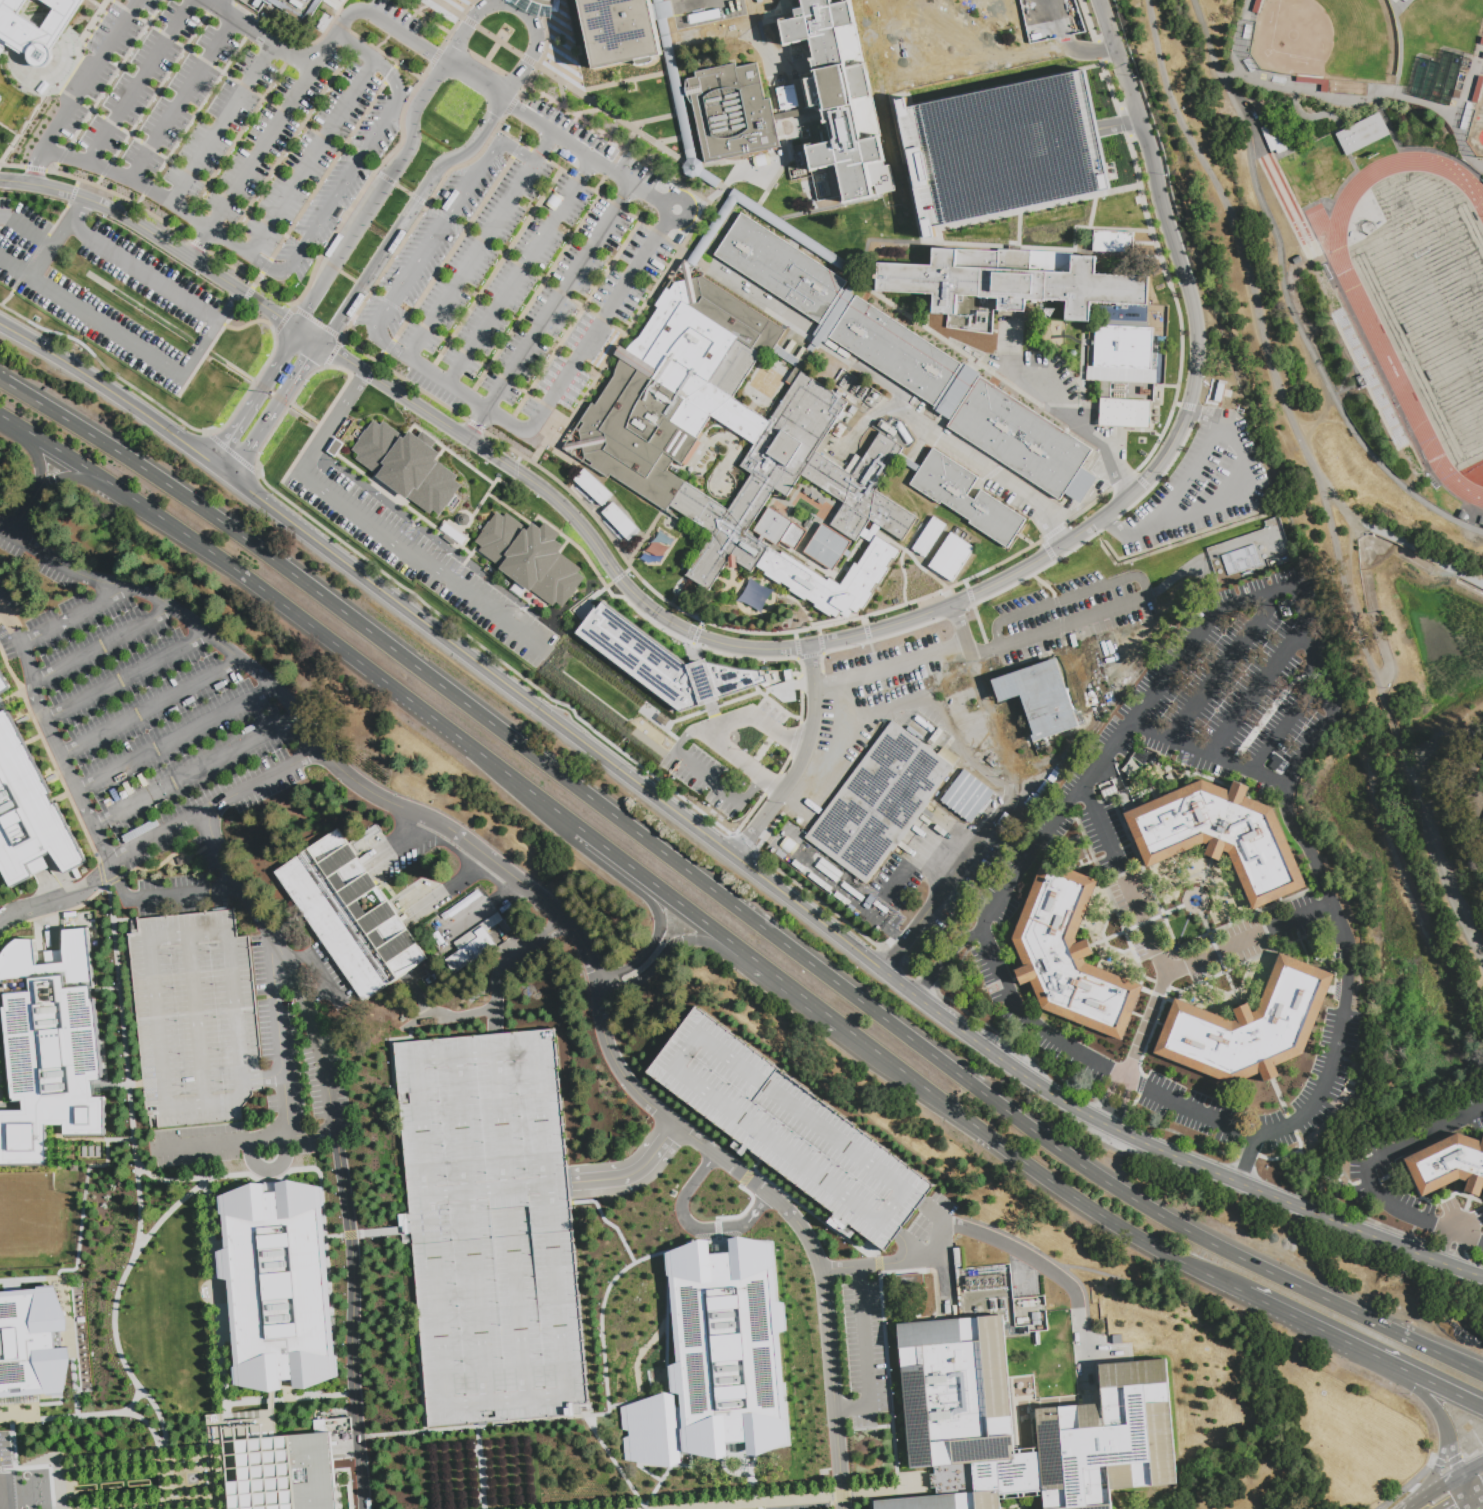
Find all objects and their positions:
building: (312, 6)
building: (533, 6)
building: (1257, 6)
park: (1470, 6)
road: (523, 10)
road: (388, 25)
building: (34, 30)
building: (621, 31)
road: (260, 34)
park: (1325, 39)
building: (1481, 41)
road: (974, 65)
road: (89, 76)
road: (138, 81)
road: (477, 83)
building: (1315, 83)
road: (938, 86)
building: (1477, 90)
road: (1309, 92)
building: (840, 94)
building: (1455, 94)
building: (785, 97)
building: (0, 98)
road: (180, 98)
road: (1453, 113)
building: (732, 114)
road: (1312, 117)
road: (222, 123)
parking lot: (227, 123)
road: (1117, 126)
building: (684, 128)
park: (1477, 129)
road: (947, 130)
road: (274, 133)
building: (1362, 134)
road: (325, 139)
building: (1275, 139)
road: (1024, 145)
building: (1001, 149)
parking lot: (1001, 149)
road: (585, 152)
road: (404, 163)
road: (36, 169)
road: (344, 182)
road: (151, 191)
road: (1017, 191)
road: (75, 211)
road: (406, 214)
road: (691, 216)
road: (26, 232)
road: (159, 237)
road: (433, 237)
building: (1113, 242)
road: (201, 244)
road: (16, 267)
road: (468, 267)
building: (779, 268)
parking lot: (525, 269)
building: (1009, 284)
parking lot: (108, 293)
road: (322, 294)
road: (558, 298)
track: (1424, 299)
road: (1283, 300)
road: (227, 306)
building: (1136, 315)
park: (1438, 316)
road: (312, 337)
road: (1007, 341)
road: (1265, 347)
building: (893, 350)
track: (1382, 350)
building: (1120, 355)
road: (180, 376)
park: (765, 381)
building: (1363, 382)
building: (1219, 390)
road: (110, 391)
building: (1144, 391)
flagpole: (270, 394)
road: (260, 398)
road: (1268, 401)
road: (480, 409)
road: (276, 410)
building: (1125, 413)
road: (1200, 417)
road: (1242, 417)
road: (1319, 420)
road: (1073, 425)
road: (477, 426)
building: (633, 439)
building: (1022, 440)
road: (957, 447)
road: (1239, 455)
road: (40, 460)
building: (406, 465)
road: (225, 471)
road: (64, 476)
parking lot: (1198, 485)
building: (592, 488)
building: (967, 500)
road: (27, 507)
building: (1461, 514)
building: (620, 522)
building: (1482, 526)
building: (112, 528)
road: (370, 528)
building: (928, 537)
building: (951, 556)
parking lot: (418, 560)
building: (1241, 561)
building: (527, 562)
road: (60, 564)
road: (1138, 580)
building: (754, 595)
road: (949, 605)
road: (22, 607)
parking lot: (1070, 612)
road: (3, 613)
road: (74, 615)
road: (3, 620)
road: (962, 631)
road: (102, 645)
road: (24, 648)
road: (986, 653)
road: (237, 658)
road: (1226, 663)
building: (675, 665)
road: (891, 665)
road: (812, 666)
road: (125, 677)
building: (4, 686)
road: (1259, 691)
building: (1038, 697)
road: (11, 699)
road: (842, 699)
parking lot: (868, 702)
road: (1356, 705)
road: (151, 708)
road: (883, 709)
road: (753, 716)
road: (814, 717)
road: (949, 724)
road: (1286, 725)
road: (1392, 730)
road: (177, 739)
road: (684, 740)
road: (34, 741)
road: (727, 751)
road: (1206, 754)
parking lot: (735, 756)
road: (51, 757)
road: (609, 761)
road: (830, 768)
road: (196, 771)
road: (797, 771)
road: (1446, 773)
road: (706, 777)
road: (758, 778)
building: (1107, 792)
building: (966, 796)
road: (61, 799)
building: (880, 802)
road: (215, 807)
road: (769, 810)
building: (29, 816)
building: (1220, 836)
road: (744, 842)
road: (101, 844)
road: (217, 846)
road: (1439, 860)
road: (965, 861)
road: (618, 862)
road: (1204, 876)
road: (829, 885)
road: (1190, 894)
road: (58, 898)
road: (726, 901)
building: (70, 915)
road: (660, 916)
building: (354, 922)
road: (1141, 923)
road: (697, 941)
road: (280, 952)
building: (471, 953)
road: (1219, 955)
building: (1069, 956)
road: (946, 957)
road: (1159, 963)
road: (316, 969)
road: (633, 975)
road: (118, 976)
road: (495, 995)
building: (195, 1019)
parking garage: (195, 1019)
road: (494, 1021)
road: (1144, 1026)
building: (1249, 1028)
road: (279, 1038)
building: (50, 1049)
road: (418, 1060)
road: (272, 1077)
road: (326, 1083)
road: (119, 1087)
road: (1154, 1091)
road: (1056, 1093)
road: (642, 1098)
road: (1116, 1102)
road: (501, 1121)
building: (789, 1130)
parking garage: (789, 1130)
road: (336, 1139)
road: (244, 1140)
road: (54, 1142)
building: (83, 1152)
building: (90, 1152)
building: (97, 1152)
road: (1249, 1155)
road: (1369, 1163)
building: (1449, 1165)
building: (73, 1168)
road: (269, 1169)
road: (632, 1174)
road: (229, 1177)
road: (529, 1186)
road: (488, 1190)
road: (1300, 1206)
road: (173, 1210)
road: (934, 1211)
park: (25, 1216)
building: (491, 1227)
parking garage: (491, 1227)
road: (694, 1227)
road: (470, 1229)
road: (336, 1235)
road: (1471, 1236)
road: (513, 1239)
road: (908, 1247)
road: (1453, 1249)
building: (342, 1250)
building: (956, 1258)
road: (882, 1263)
road: (945, 1264)
road: (1051, 1270)
road: (127, 1272)
road: (1477, 1277)
building: (985, 1281)
building: (911, 1282)
building: (278, 1286)
road: (943, 1303)
building: (1029, 1315)
road: (884, 1317)
road: (928, 1321)
road: (352, 1325)
road: (600, 1328)
road: (1323, 1332)
road: (520, 1334)
road: (1254, 1342)
building: (31, 1349)
road: (1184, 1353)
road: (223, 1355)
road: (867, 1355)
building: (715, 1359)
road: (419, 1377)
road: (1442, 1388)
building: (956, 1393)
road: (1425, 1399)
road: (139, 1417)
road: (422, 1432)
building: (1109, 1439)
road: (190, 1451)
road: (1471, 1452)
road: (608, 1453)
road: (1452, 1453)
road: (115, 1458)
road: (1446, 1464)
road: (1436, 1467)
road: (479, 1468)
road: (1472, 1469)
building: (259, 1470)
building: (315, 1470)
road: (167, 1475)
building: (1012, 1476)
road: (31, 1478)
road: (218, 1478)
building: (954, 1480)
road: (748, 1481)
road: (1407, 1485)
road: (1441, 1487)
road: (1466, 1489)
road: (807, 1498)
road: (1477, 1500)
road: (870, 1501)
building: (945, 1502)
road: (195, 1503)
road: (1020, 1503)
road: (1415, 1504)
road: (1465, 1506)
road: (1472, 1506)
road: (140, 1507)
road: (1408, 1508)

